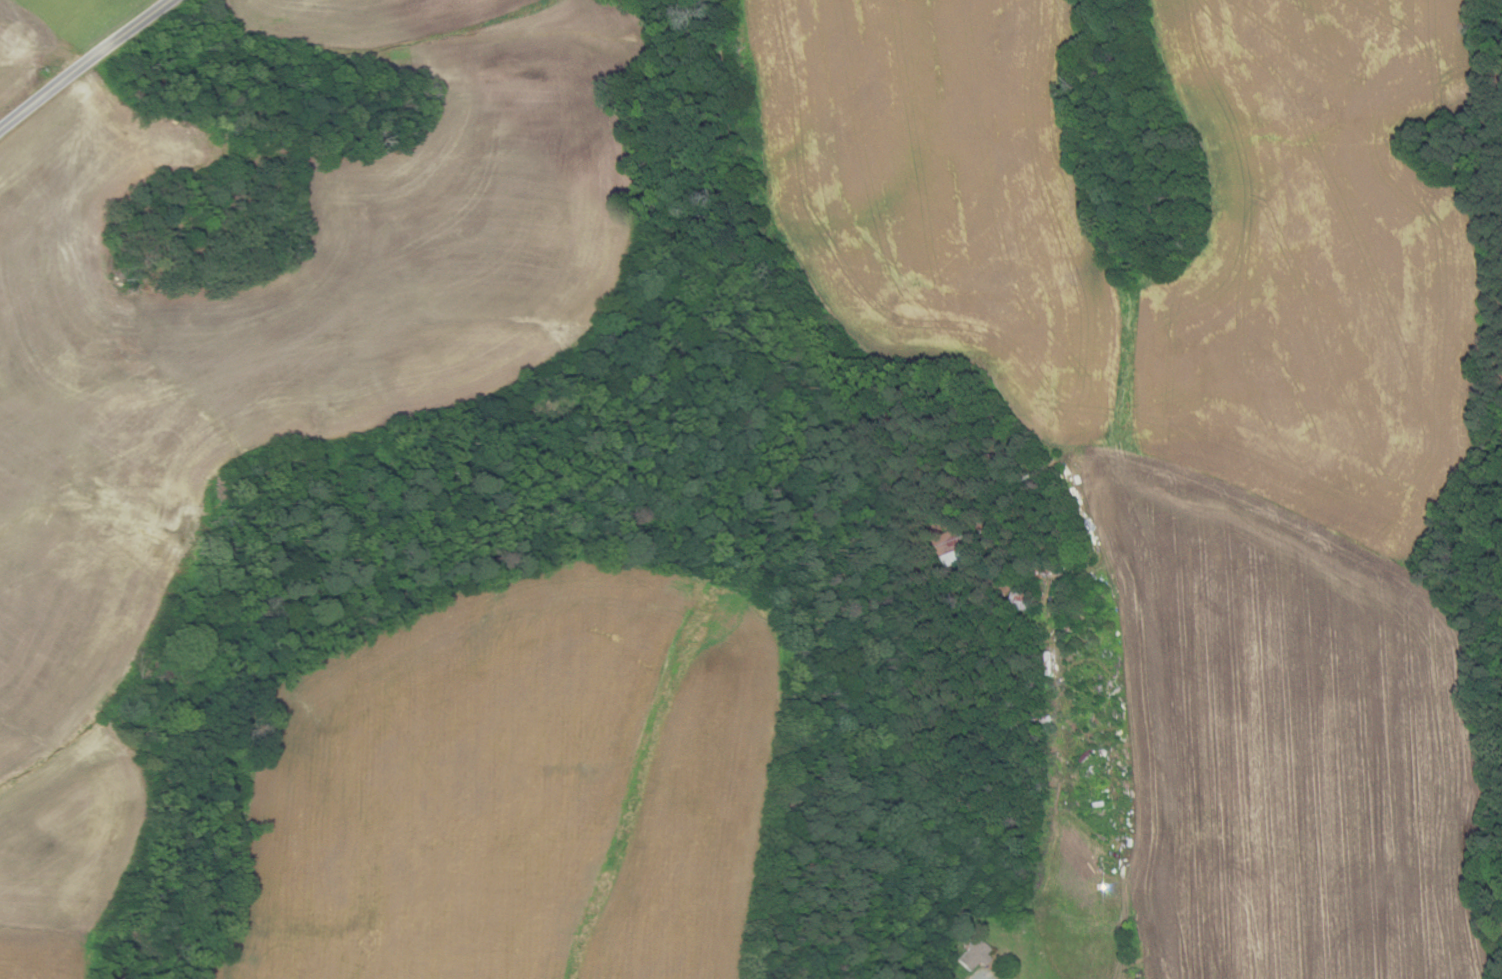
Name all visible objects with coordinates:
crop: (26, 51)
road: (84, 63)
crop: (265, 357)
crop: (1200, 404)
crop: (1204, 421)
building: (952, 541)
building: (1065, 569)
building: (1072, 629)
building: (1048, 663)
building: (1034, 723)
building: (1088, 756)
crop: (518, 786)
crop: (43, 953)
building: (975, 954)
building: (1140, 978)

